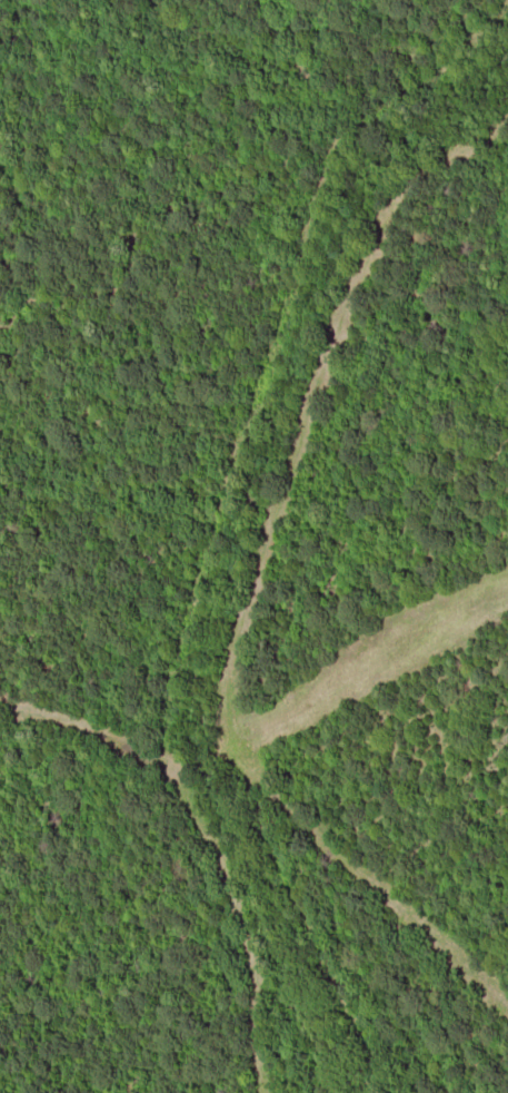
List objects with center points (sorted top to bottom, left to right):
road: (252, 761)

